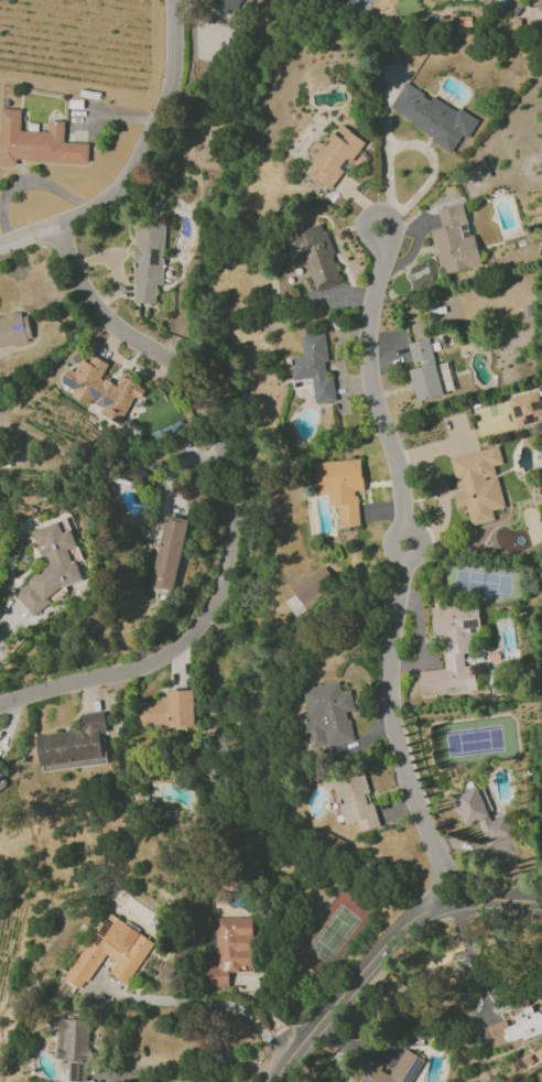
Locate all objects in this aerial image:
building: (486, 1)
building: (229, 2)
building: (539, 4)
building: (433, 117)
building: (35, 141)
road: (389, 148)
building: (333, 155)
road: (139, 160)
road: (432, 171)
road: (23, 182)
building: (454, 240)
building: (313, 255)
building: (148, 260)
building: (13, 331)
road: (368, 333)
building: (314, 367)
building: (423, 370)
building: (100, 388)
building: (525, 408)
building: (477, 484)
building: (340, 487)
road: (229, 505)
building: (167, 552)
road: (416, 554)
building: (48, 567)
park: (481, 580)
building: (308, 591)
road: (8, 625)
building: (454, 645)
building: (167, 710)
building: (325, 715)
road: (395, 736)
park: (474, 742)
building: (73, 745)
building: (2, 781)
building: (355, 800)
building: (479, 813)
park: (330, 933)
building: (229, 949)
road: (383, 950)
building: (110, 951)
road: (470, 959)
road: (212, 1003)
building: (516, 1028)
building: (73, 1047)
road: (191, 1068)
building: (391, 1070)

